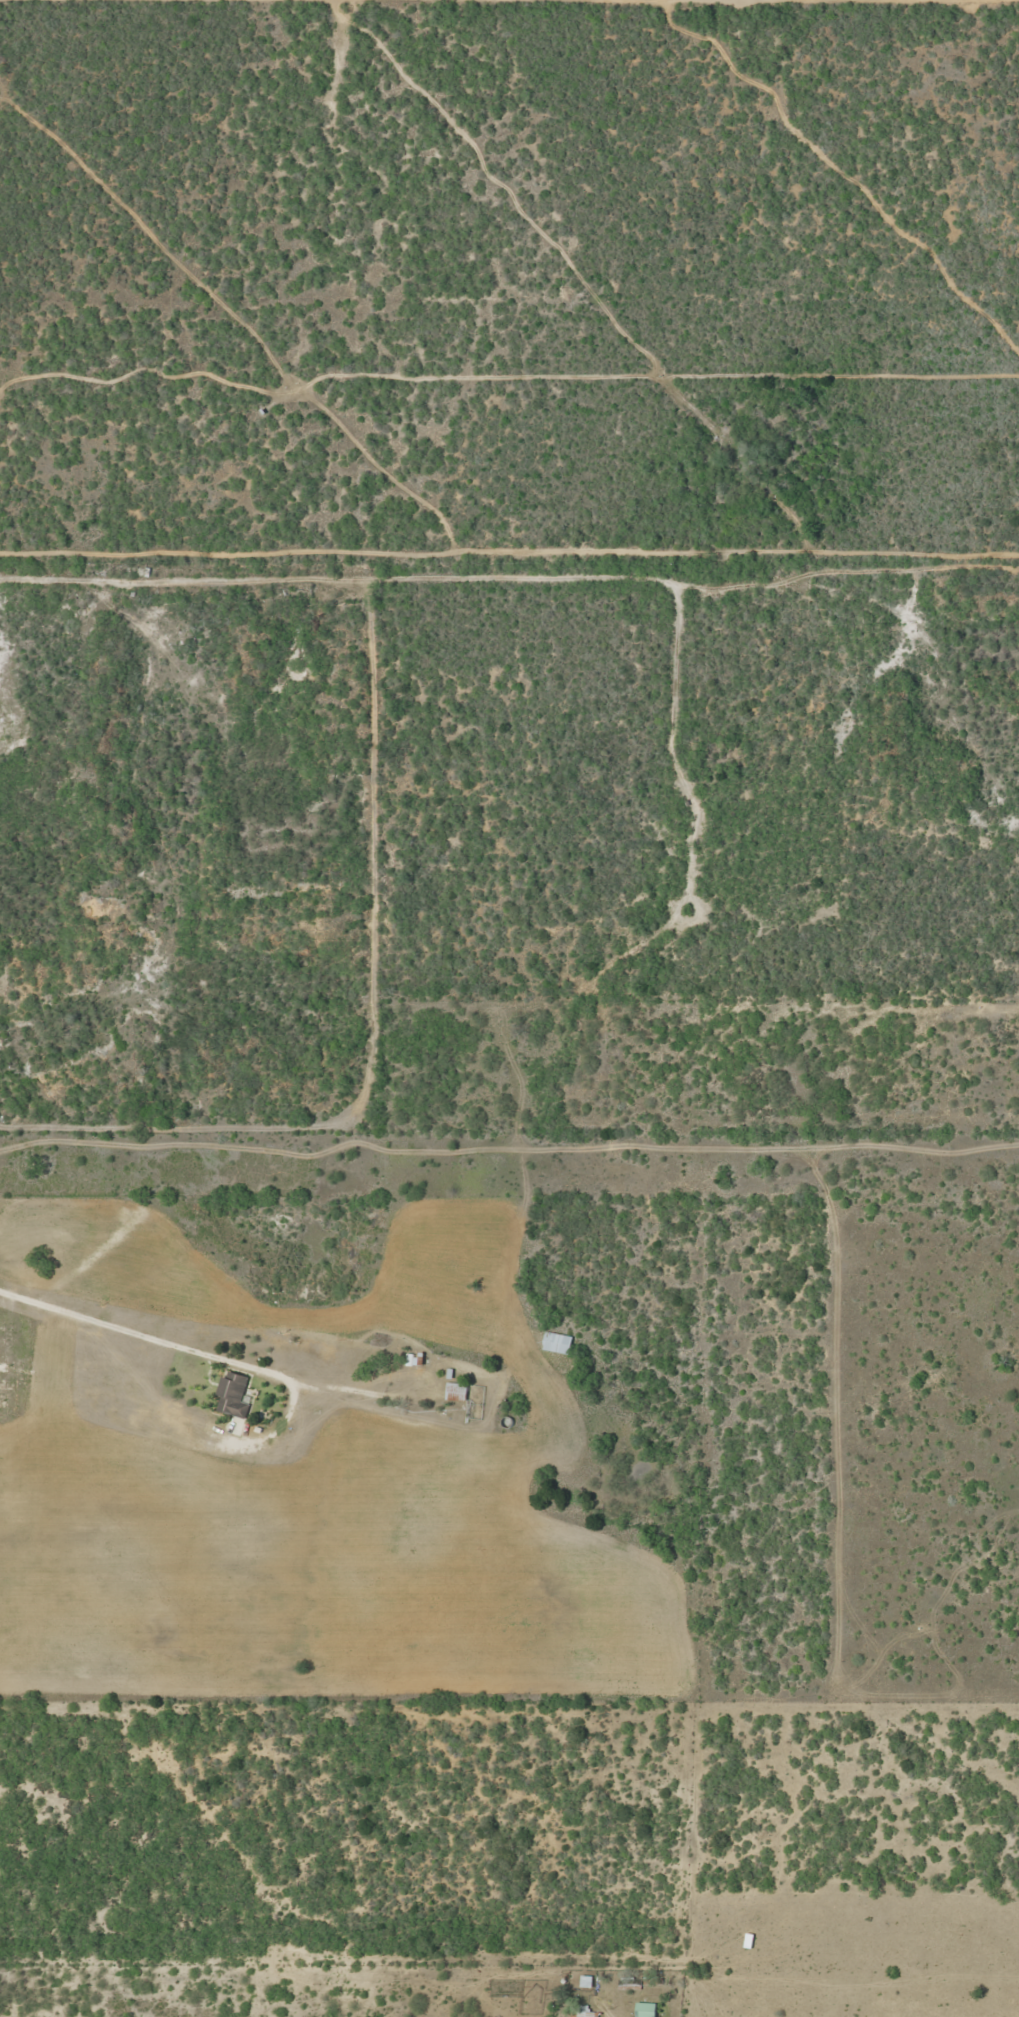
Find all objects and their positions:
road: (475, 527)
building: (555, 1341)
building: (413, 1359)
building: (455, 1390)
building: (231, 1393)
building: (645, 2009)
building: (585, 2014)

